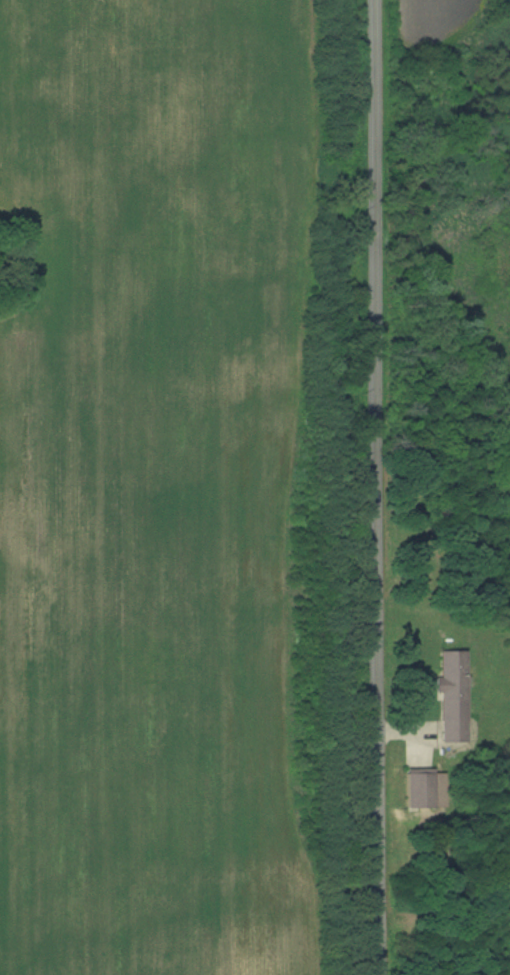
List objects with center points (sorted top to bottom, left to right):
road: (377, 487)
building: (451, 696)
building: (419, 788)

